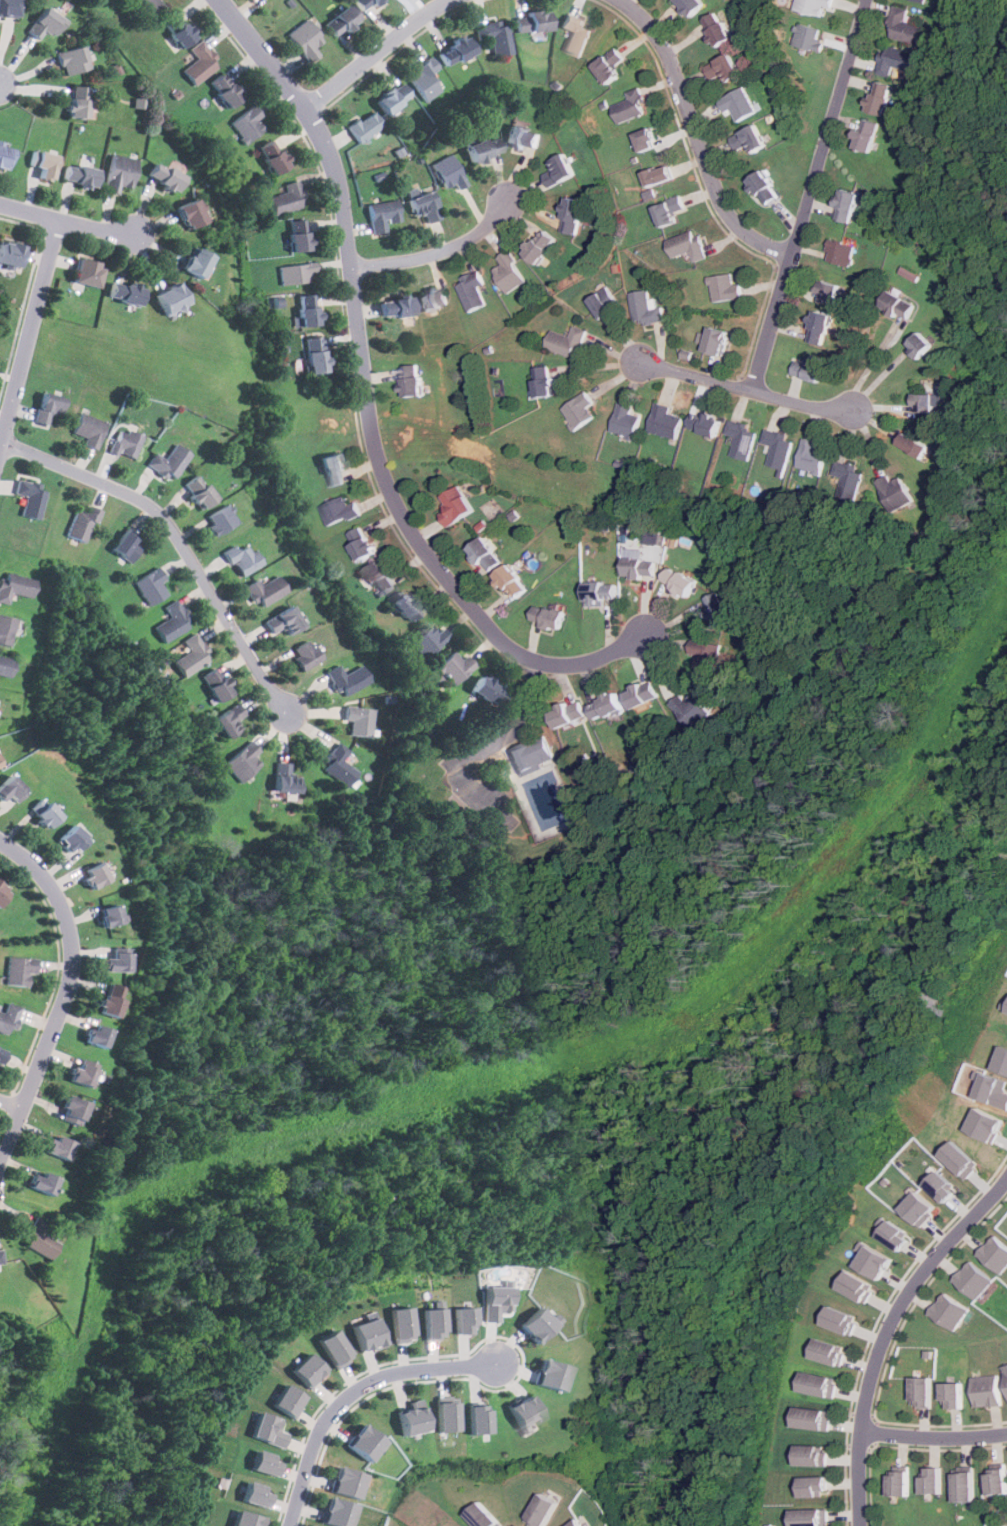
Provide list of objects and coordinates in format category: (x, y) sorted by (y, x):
building: (922, 1)
building: (366, 4)
building: (814, 5)
building: (693, 6)
building: (9, 7)
building: (148, 7)
building: (342, 21)
building: (533, 22)
building: (46, 23)
building: (904, 26)
building: (179, 29)
building: (720, 29)
building: (576, 33)
building: (495, 37)
building: (809, 37)
building: (305, 39)
building: (456, 51)
road: (375, 54)
building: (73, 60)
building: (896, 60)
building: (200, 62)
building: (610, 65)
building: (724, 68)
building: (424, 79)
road: (1, 81)
building: (225, 89)
building: (882, 97)
building: (393, 98)
building: (78, 101)
building: (738, 103)
building: (630, 106)
road: (314, 120)
building: (247, 124)
building: (364, 126)
road: (695, 135)
building: (869, 135)
building: (523, 137)
building: (647, 138)
building: (749, 139)
building: (484, 148)
building: (5, 156)
building: (274, 156)
building: (44, 163)
building: (560, 170)
building: (449, 172)
building: (119, 173)
building: (80, 175)
building: (660, 175)
building: (165, 176)
building: (767, 187)
road: (808, 194)
building: (287, 199)
building: (425, 206)
building: (848, 206)
building: (669, 210)
building: (191, 214)
building: (382, 215)
building: (574, 215)
road: (69, 218)
building: (300, 235)
building: (687, 244)
building: (542, 246)
road: (439, 252)
building: (840, 252)
building: (11, 253)
building: (198, 262)
building: (88, 272)
building: (510, 272)
building: (295, 273)
building: (724, 288)
building: (472, 291)
building: (830, 292)
building: (126, 293)
building: (173, 298)
building: (434, 299)
building: (604, 303)
building: (899, 304)
building: (397, 307)
building: (645, 308)
building: (309, 310)
road: (27, 324)
building: (821, 327)
building: (719, 341)
building: (568, 342)
building: (921, 344)
building: (316, 355)
building: (811, 368)
building: (414, 380)
building: (546, 381)
road: (743, 387)
building: (926, 403)
building: (48, 408)
building: (579, 410)
building: (625, 422)
building: (665, 422)
building: (706, 424)
building: (88, 429)
building: (742, 439)
building: (125, 443)
building: (915, 445)
building: (778, 447)
building: (812, 457)
building: (170, 461)
building: (334, 469)
building: (849, 478)
building: (199, 492)
building: (896, 492)
building: (31, 497)
building: (457, 504)
building: (340, 511)
building: (220, 520)
building: (82, 524)
building: (649, 537)
road: (417, 541)
road: (179, 542)
building: (363, 542)
building: (127, 547)
building: (486, 554)
building: (243, 558)
building: (639, 567)
building: (382, 577)
building: (514, 580)
building: (681, 582)
building: (14, 585)
building: (151, 585)
building: (265, 590)
building: (602, 590)
building: (408, 605)
building: (719, 610)
building: (550, 615)
building: (284, 620)
building: (172, 622)
building: (6, 628)
building: (428, 640)
building: (306, 653)
building: (191, 655)
building: (707, 656)
building: (6, 665)
building: (454, 666)
building: (348, 679)
building: (218, 683)
building: (488, 690)
building: (644, 693)
building: (609, 704)
building: (692, 709)
building: (570, 712)
building: (359, 720)
building: (229, 721)
building: (530, 752)
building: (243, 761)
building: (338, 765)
building: (285, 778)
building: (11, 787)
building: (45, 811)
building: (74, 838)
building: (96, 874)
building: (3, 891)
building: (112, 914)
building: (118, 961)
building: (20, 969)
road: (62, 990)
building: (112, 999)
building: (9, 1018)
building: (98, 1035)
building: (2, 1058)
building: (1004, 1061)
building: (82, 1074)
building: (995, 1089)
road: (11, 1100)
building: (74, 1109)
building: (988, 1124)
building: (59, 1147)
building: (961, 1159)
building: (43, 1182)
building: (942, 1186)
building: (919, 1208)
building: (895, 1235)
building: (40, 1239)
building: (994, 1254)
building: (1, 1257)
building: (874, 1260)
building: (972, 1279)
building: (859, 1286)
building: (492, 1301)
building: (949, 1311)
building: (459, 1320)
building: (843, 1320)
building: (430, 1323)
building: (536, 1323)
building: (397, 1324)
road: (885, 1332)
building: (364, 1334)
building: (332, 1348)
building: (831, 1352)
building: (305, 1370)
building: (549, 1374)
building: (1006, 1376)
building: (821, 1384)
building: (986, 1390)
road: (348, 1391)
building: (921, 1391)
building: (952, 1395)
building: (285, 1400)
building: (524, 1411)
building: (445, 1413)
building: (814, 1417)
building: (410, 1418)
building: (477, 1419)
building: (264, 1429)
road: (933, 1439)
building: (363, 1442)
building: (814, 1454)
building: (260, 1463)
building: (996, 1479)
building: (931, 1481)
building: (345, 1482)
building: (899, 1482)
building: (963, 1485)
building: (816, 1486)
building: (251, 1494)
building: (544, 1510)
building: (336, 1512)
building: (485, 1515)
building: (813, 1517)
building: (242, 1519)
building: (580, 1524)

